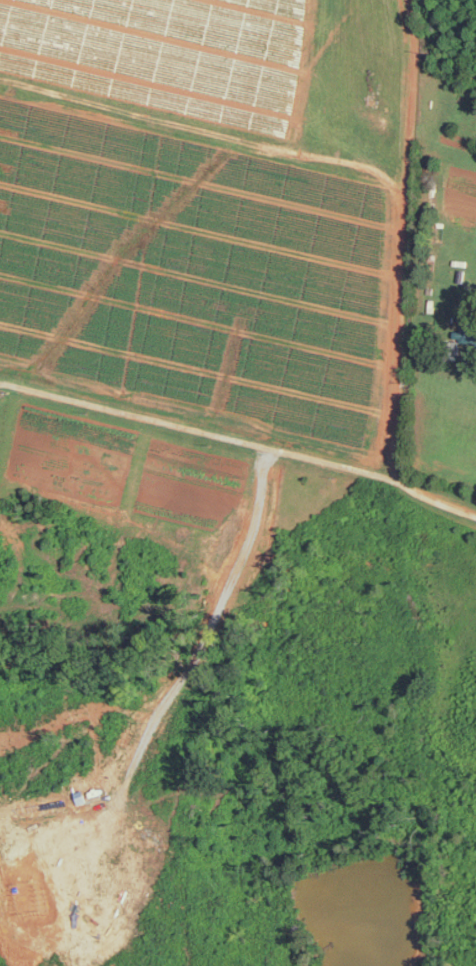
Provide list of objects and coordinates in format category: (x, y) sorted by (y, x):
building: (466, 329)
road: (239, 439)

